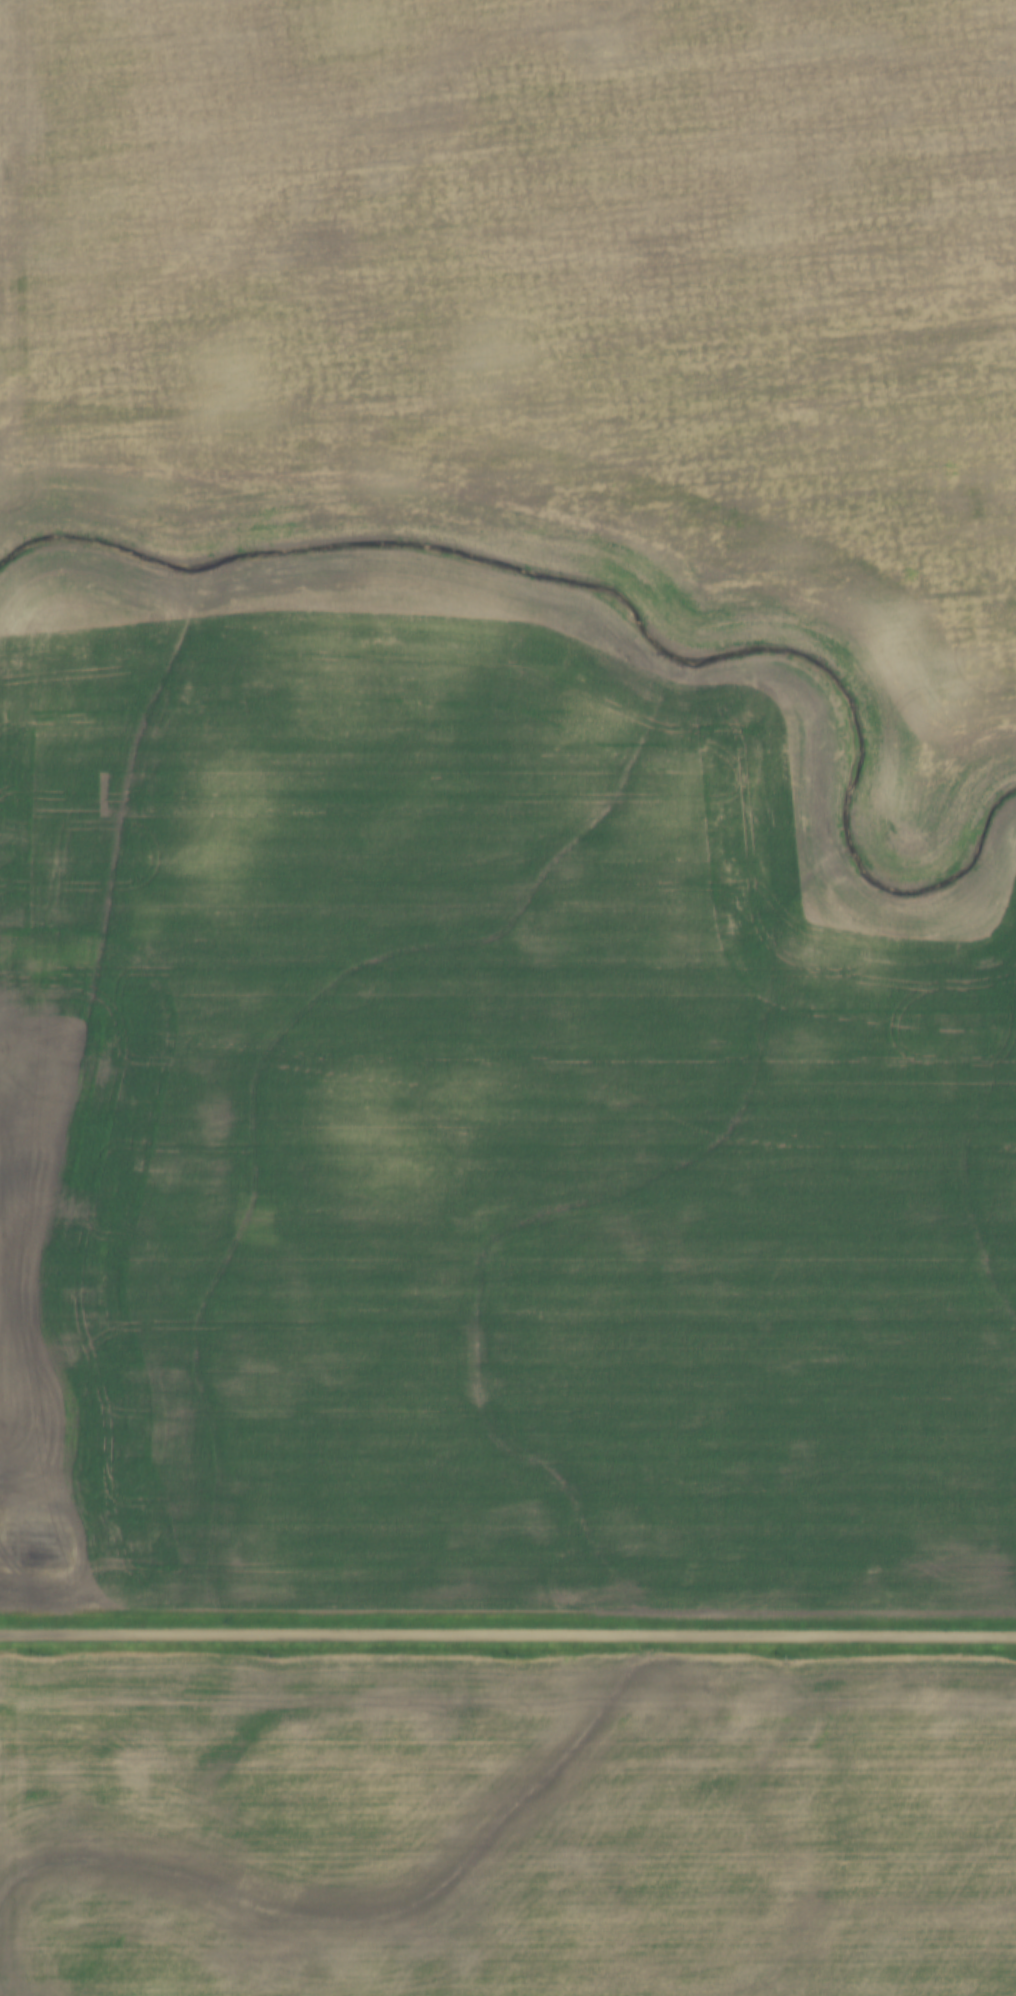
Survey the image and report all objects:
road: (508, 1637)

